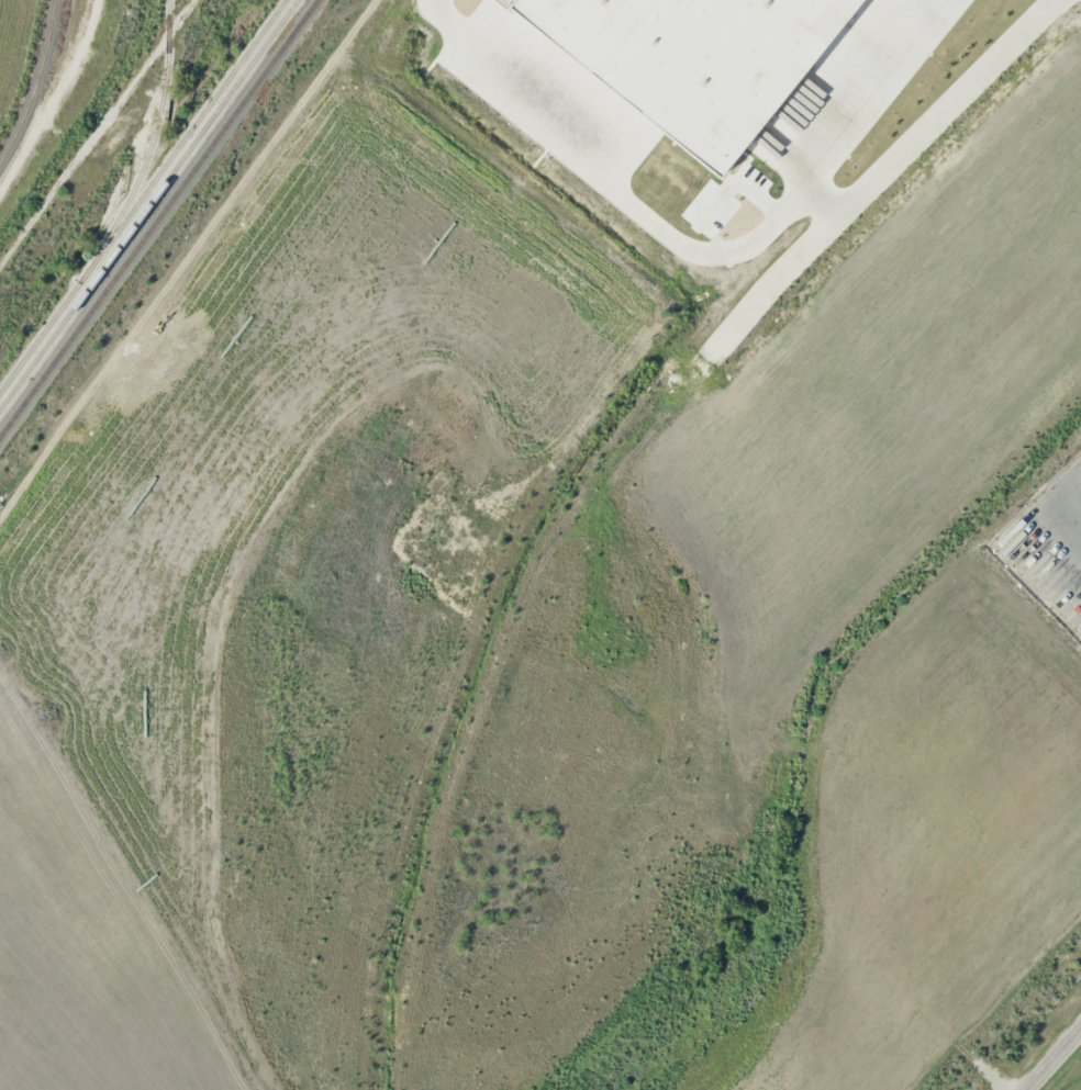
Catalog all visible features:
building: (693, 59)
railway: (35, 82)
road: (933, 124)
railway: (152, 148)
railway: (143, 195)
railway: (148, 204)
railway: (159, 220)
road: (704, 246)
road: (759, 297)
road: (225, 313)
road: (332, 338)
road: (996, 501)
road: (1063, 504)
building: (575, 599)
road: (617, 804)
road: (1021, 930)
road: (1000, 1041)
road: (1059, 1052)
road: (1033, 1082)

